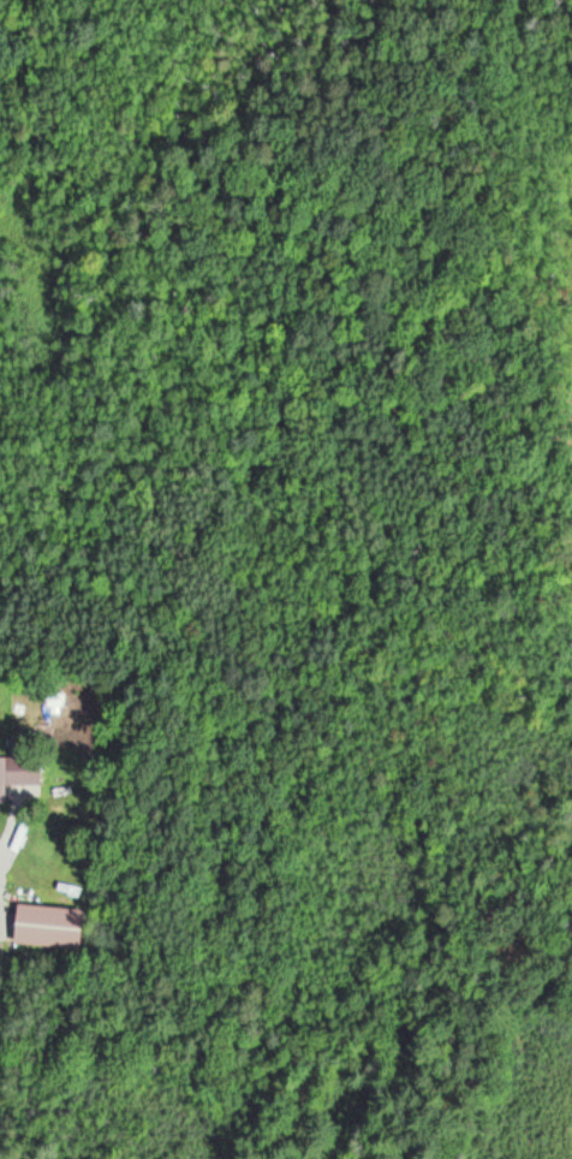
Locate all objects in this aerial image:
building: (17, 778)
road: (2, 855)
building: (52, 926)

